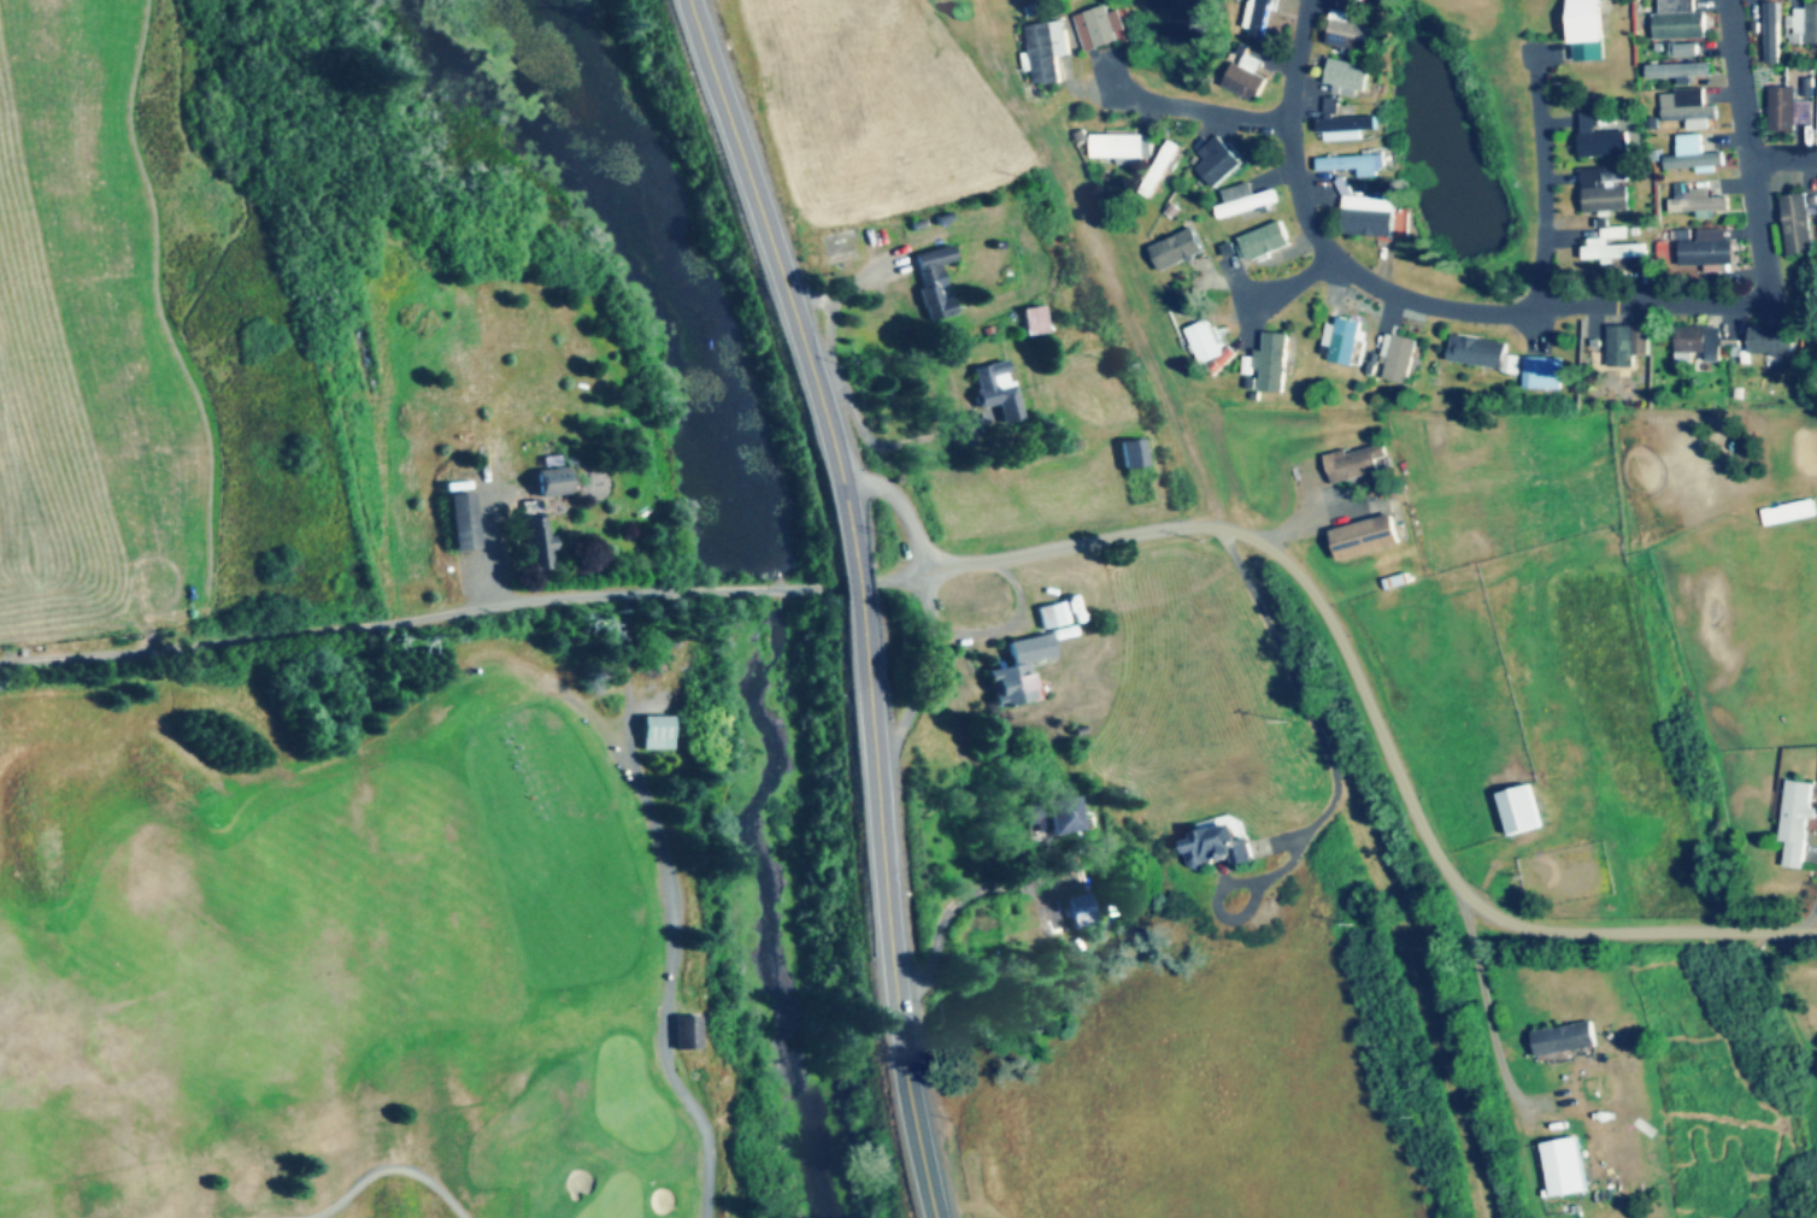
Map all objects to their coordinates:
building: (1387, 0)
building: (1265, 19)
building: (1680, 19)
building: (1586, 22)
building: (1811, 22)
building: (1102, 27)
building: (1774, 31)
building: (1351, 33)
building: (1686, 49)
building: (1049, 51)
building: (1594, 53)
building: (1681, 70)
building: (1248, 77)
building: (1349, 77)
building: (1334, 106)
building: (1688, 106)
building: (1789, 110)
road: (1259, 119)
building: (1348, 129)
building: (1719, 136)
building: (1603, 140)
building: (1121, 147)
building: (1694, 155)
road: (1786, 159)
building: (1219, 161)
building: (1357, 165)
building: (1166, 166)
road: (1548, 183)
building: (1607, 192)
building: (1246, 200)
building: (1698, 201)
building: (1369, 214)
building: (1799, 224)
building: (1268, 241)
building: (1178, 249)
building: (1709, 251)
building: (1613, 252)
building: (935, 280)
road: (777, 281)
road: (1286, 290)
road: (1625, 307)
building: (1206, 341)
building: (1349, 341)
building: (1772, 341)
building: (1700, 342)
building: (1629, 345)
building: (1484, 353)
building: (1400, 358)
building: (1274, 363)
building: (1546, 372)
building: (1000, 390)
building: (1135, 454)
building: (1357, 464)
building: (553, 488)
road: (899, 508)
building: (1790, 513)
building: (463, 519)
building: (1368, 537)
building: (536, 542)
road: (855, 587)
railway: (1263, 601)
road: (471, 612)
building: (1030, 657)
road: (922, 681)
road: (1382, 724)
building: (658, 731)
building: (1522, 810)
building: (1053, 814)
building: (1797, 822)
building: (1219, 843)
building: (1082, 911)
road: (884, 913)
park: (359, 957)
building: (690, 1032)
building: (1568, 1040)
building: (1565, 1167)

